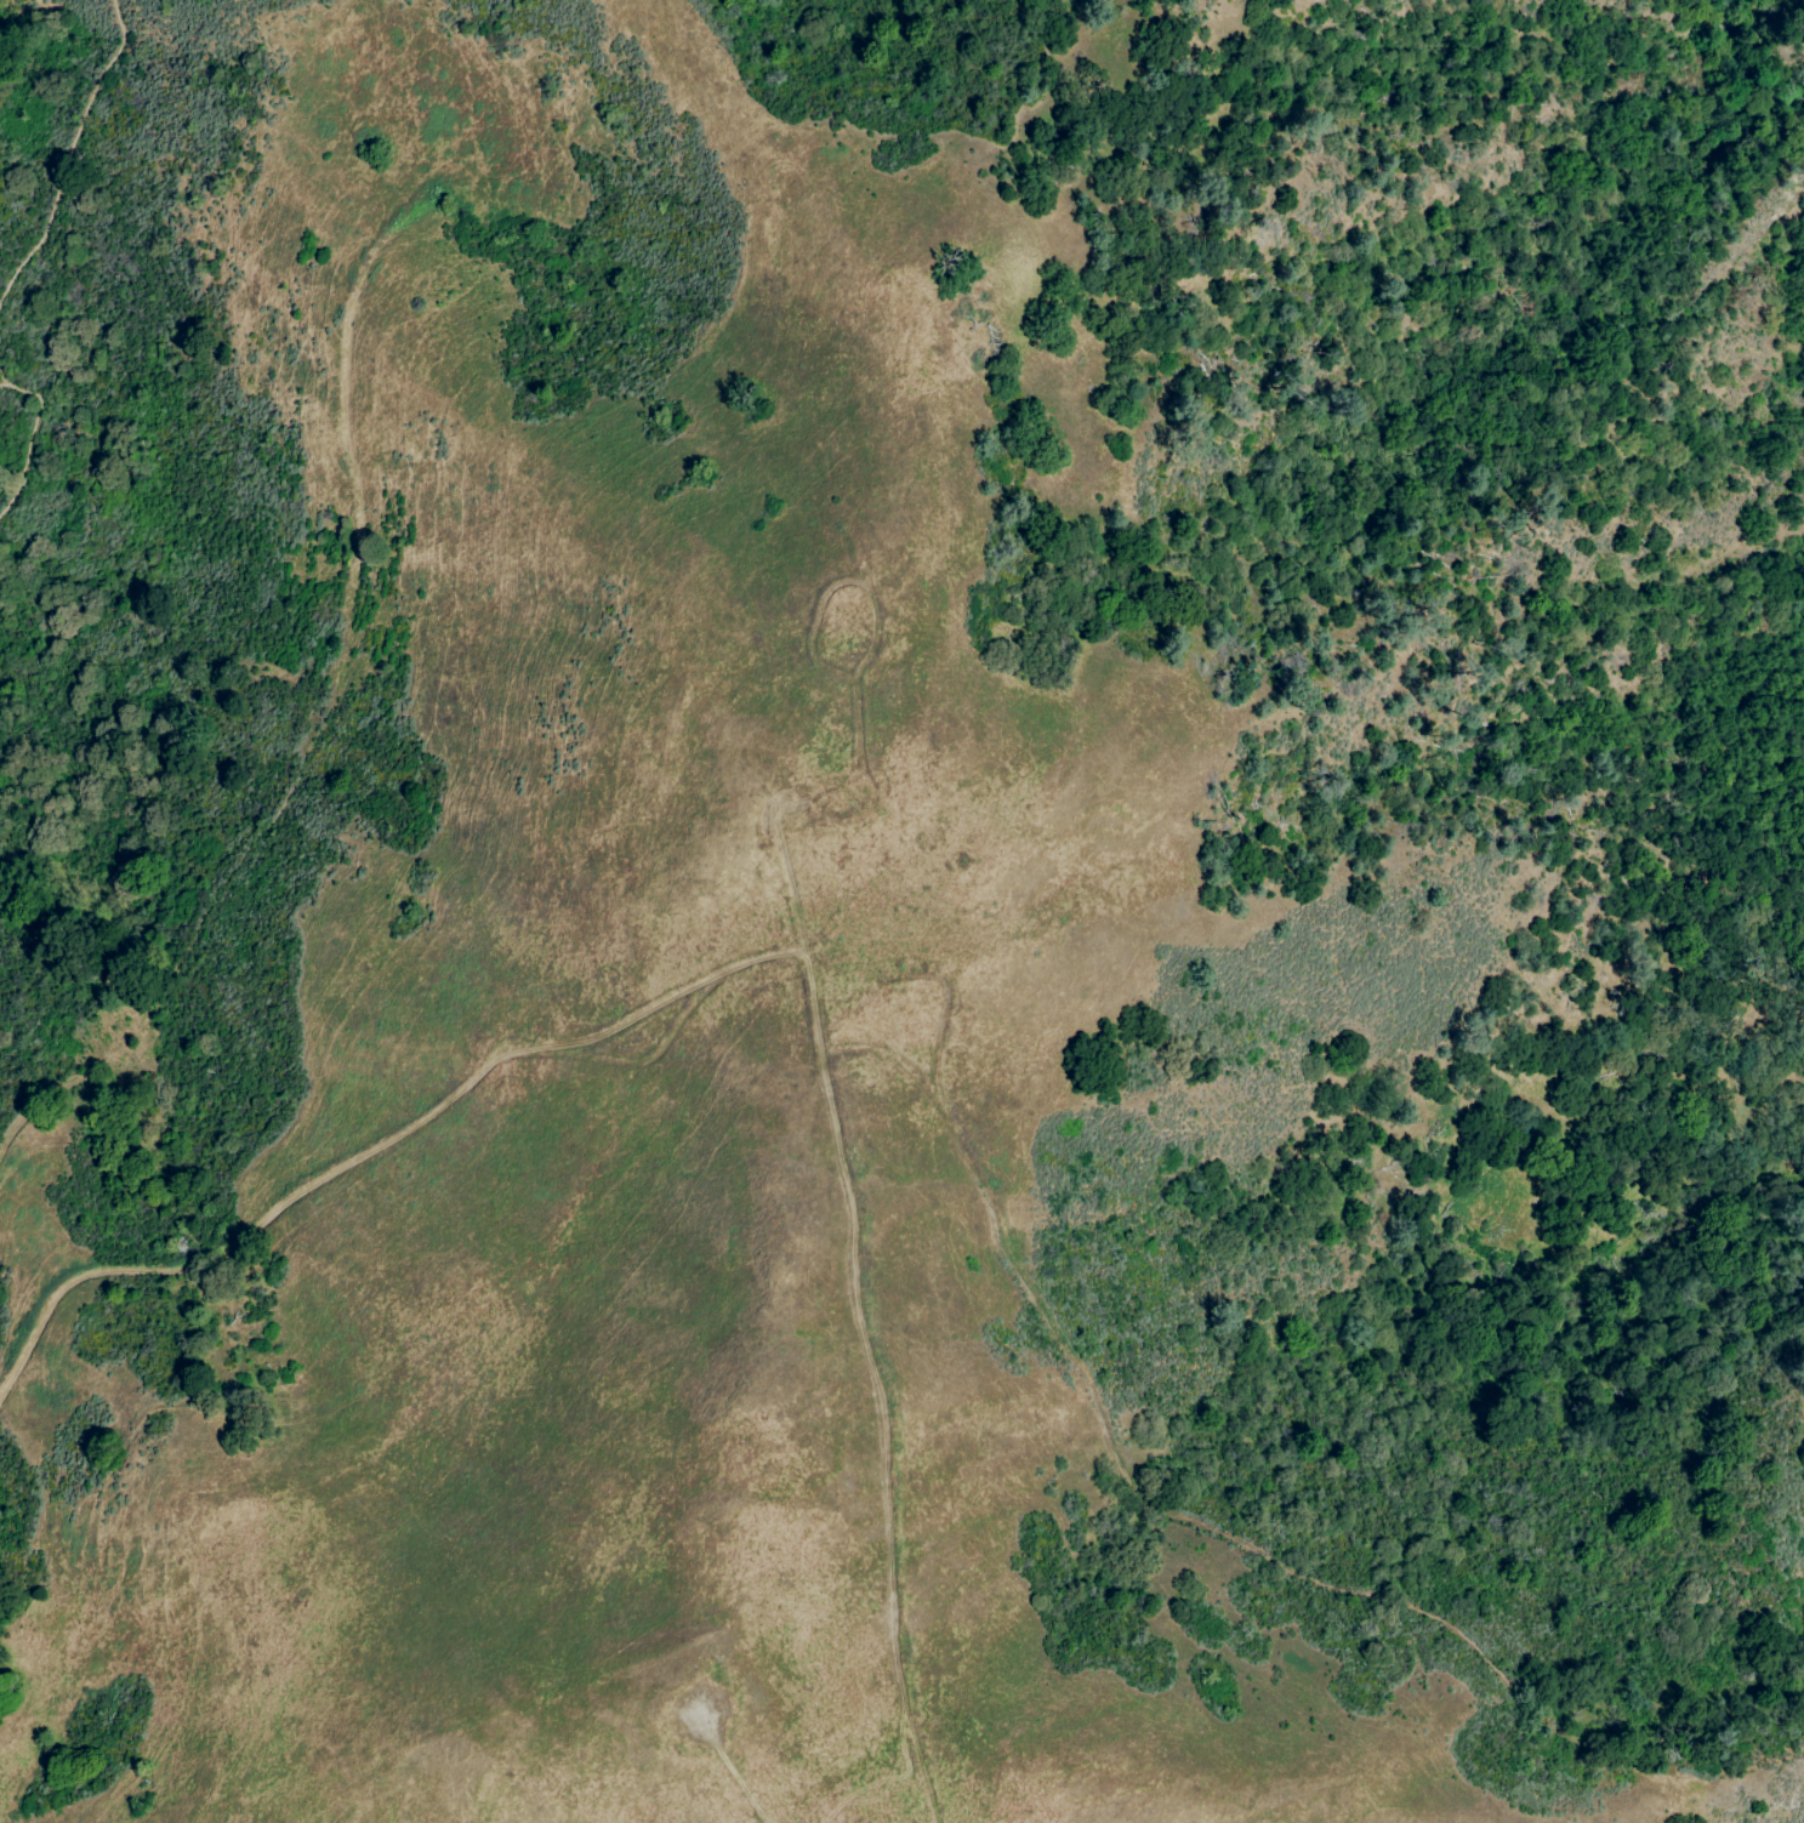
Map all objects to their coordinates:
road: (70, 150)
road: (30, 438)
park: (1623, 529)
park: (129, 970)

